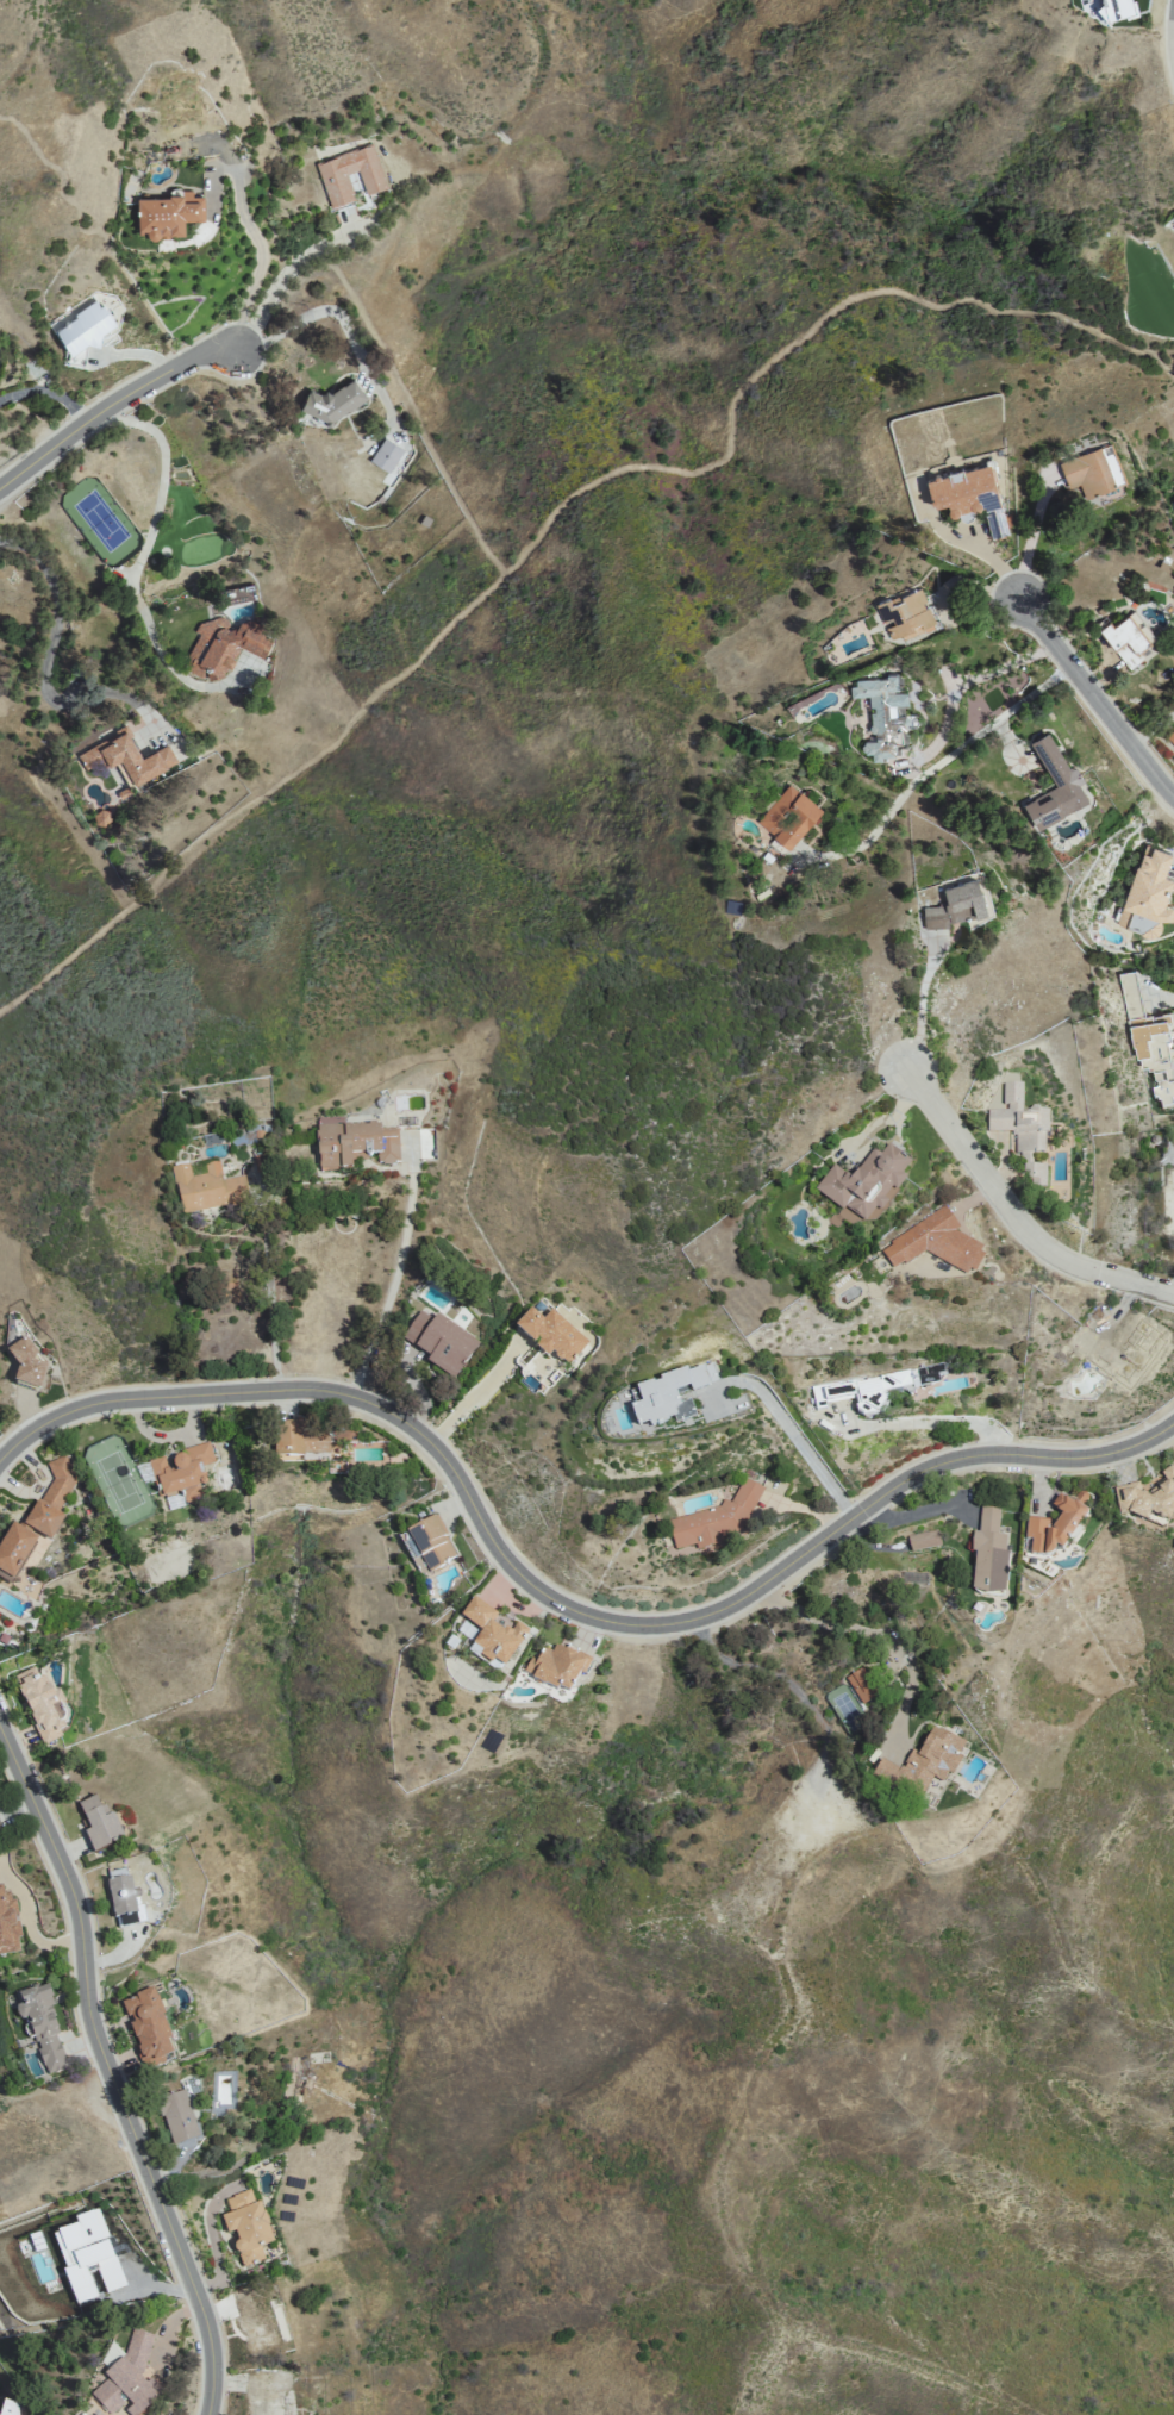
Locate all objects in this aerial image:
building: (1118, 7)
building: (351, 174)
building: (167, 213)
road: (257, 236)
road: (283, 279)
road: (338, 316)
building: (83, 326)
road: (50, 388)
building: (335, 401)
road: (111, 406)
building: (383, 458)
building: (1092, 469)
building: (968, 494)
road: (150, 533)
road: (1030, 536)
road: (963, 578)
building: (905, 613)
building: (1128, 637)
road: (51, 643)
building: (223, 645)
road: (955, 688)
road: (1095, 700)
building: (883, 713)
building: (1172, 736)
building: (127, 755)
road: (943, 760)
building: (1067, 781)
building: (788, 815)
building: (1147, 892)
building: (956, 904)
road: (1162, 997)
road: (920, 1001)
building: (1149, 1038)
building: (1022, 1130)
building: (352, 1143)
building: (863, 1186)
building: (207, 1187)
building: (1170, 1197)
road: (1014, 1216)
building: (933, 1242)
road: (396, 1280)
road: (269, 1291)
building: (551, 1334)
building: (441, 1342)
building: (1124, 1352)
building: (26, 1365)
building: (868, 1389)
building: (669, 1394)
road: (473, 1397)
road: (919, 1421)
road: (795, 1437)
building: (301, 1440)
building: (186, 1472)
building: (1148, 1497)
building: (714, 1518)
building: (36, 1519)
building: (1054, 1527)
building: (923, 1540)
building: (431, 1542)
building: (988, 1554)
road: (561, 1600)
road: (833, 1623)
building: (492, 1635)
building: (556, 1667)
road: (785, 1678)
building: (861, 1684)
building: (39, 1704)
building: (922, 1762)
building: (808, 1817)
building: (99, 1824)
building: (0, 1828)
building: (124, 1902)
building: (7, 1924)
building: (148, 2027)
building: (43, 2029)
road: (111, 2068)
building: (293, 2088)
building: (177, 2116)
building: (246, 2226)
building: (87, 2255)
building: (254, 2320)
building: (127, 2379)
building: (268, 2391)
building: (10, 2408)

